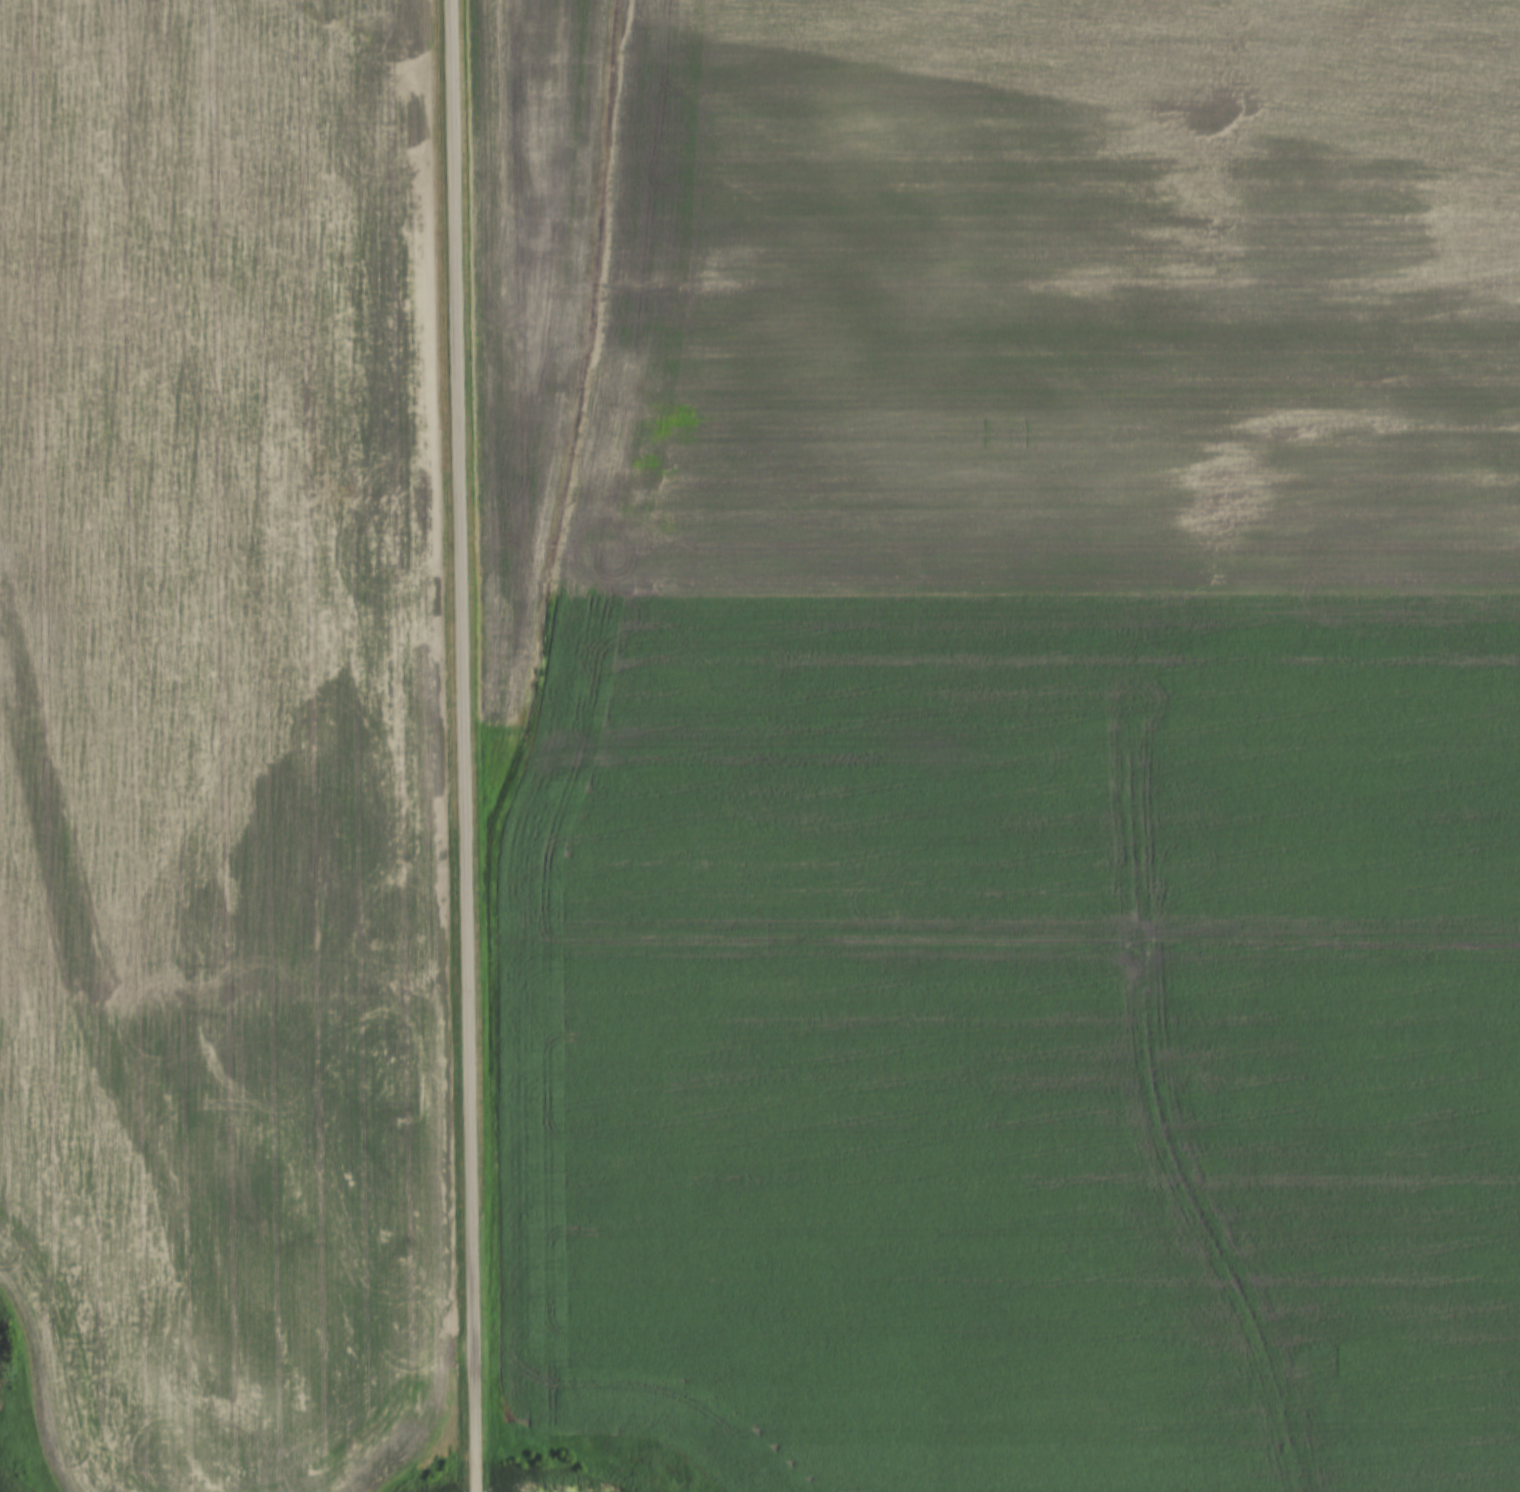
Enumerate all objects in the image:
road: (462, 745)

